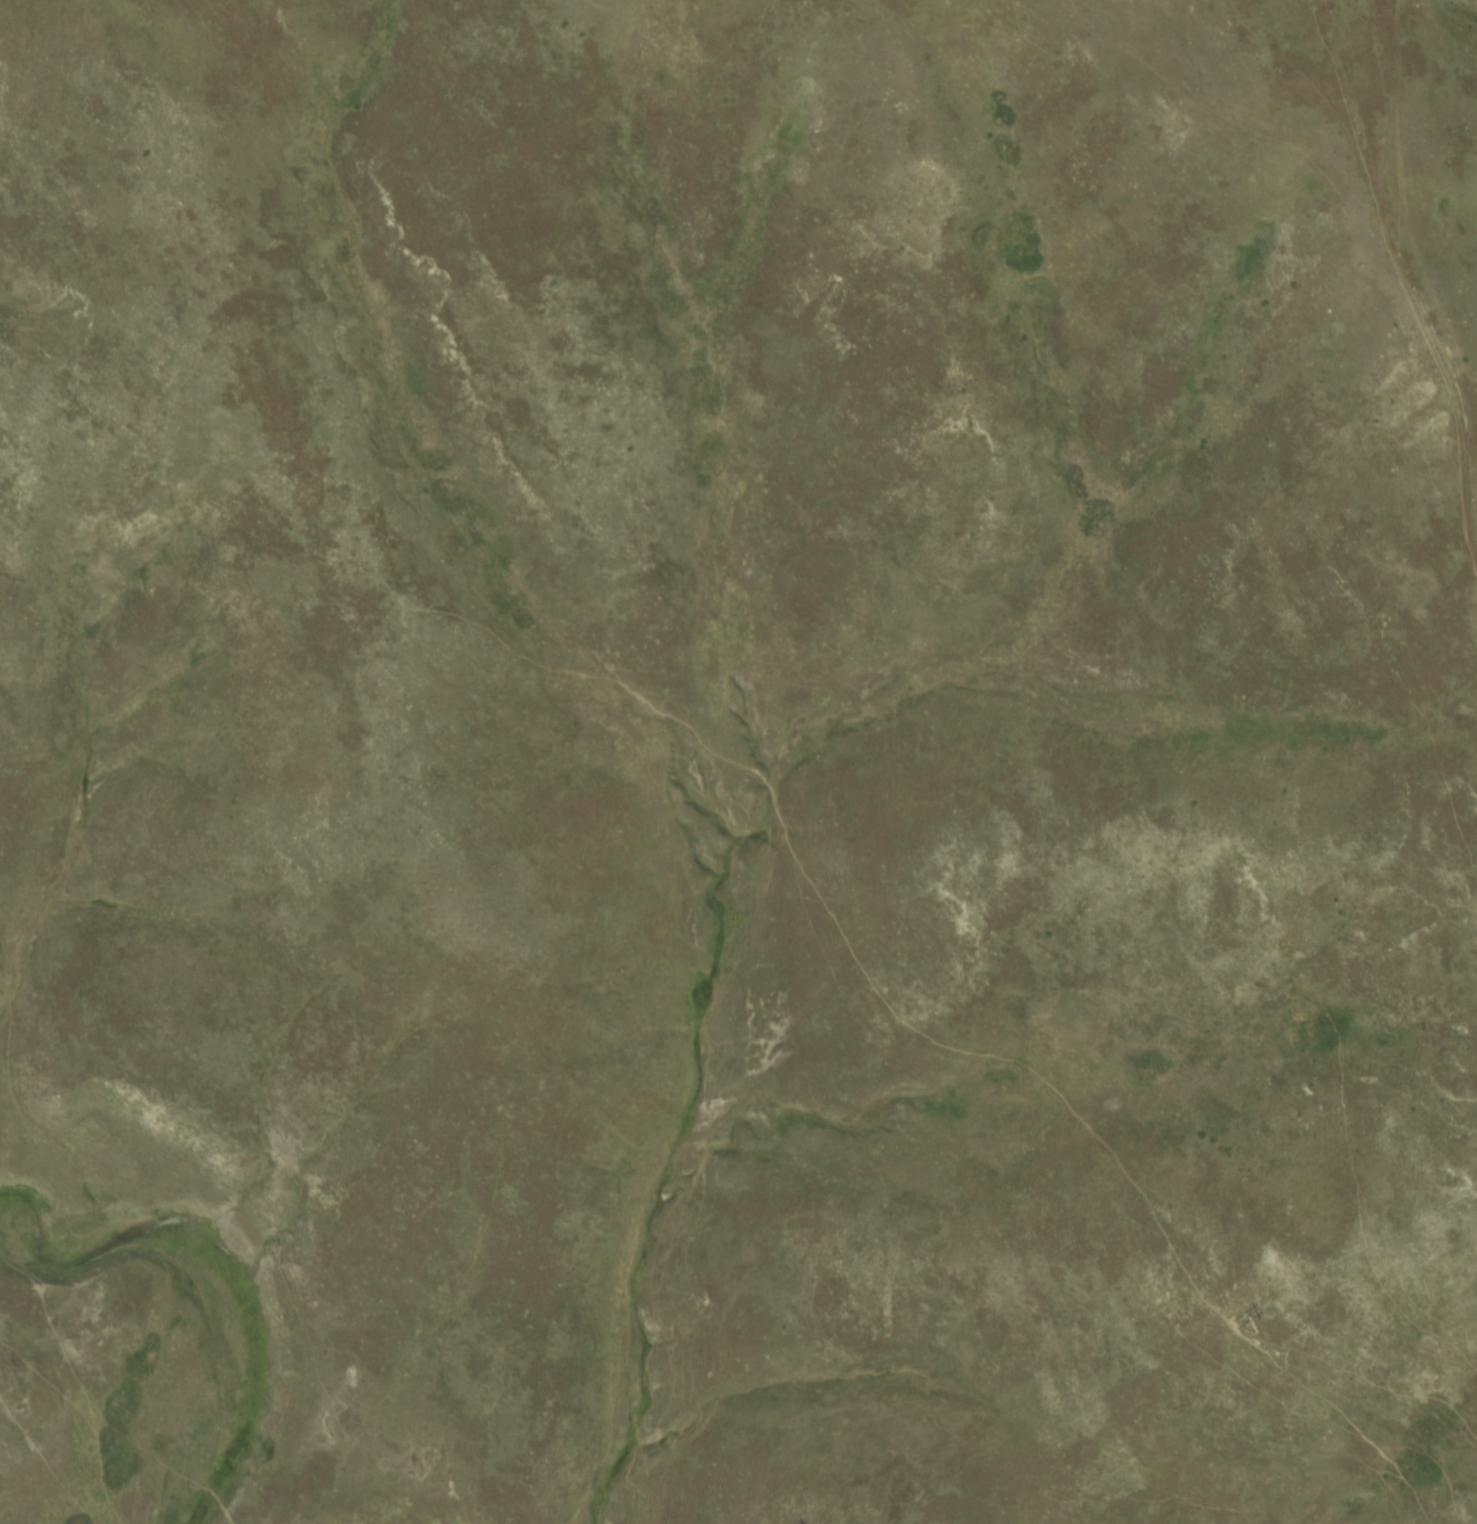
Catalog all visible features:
power tower: (1234, 1326)

